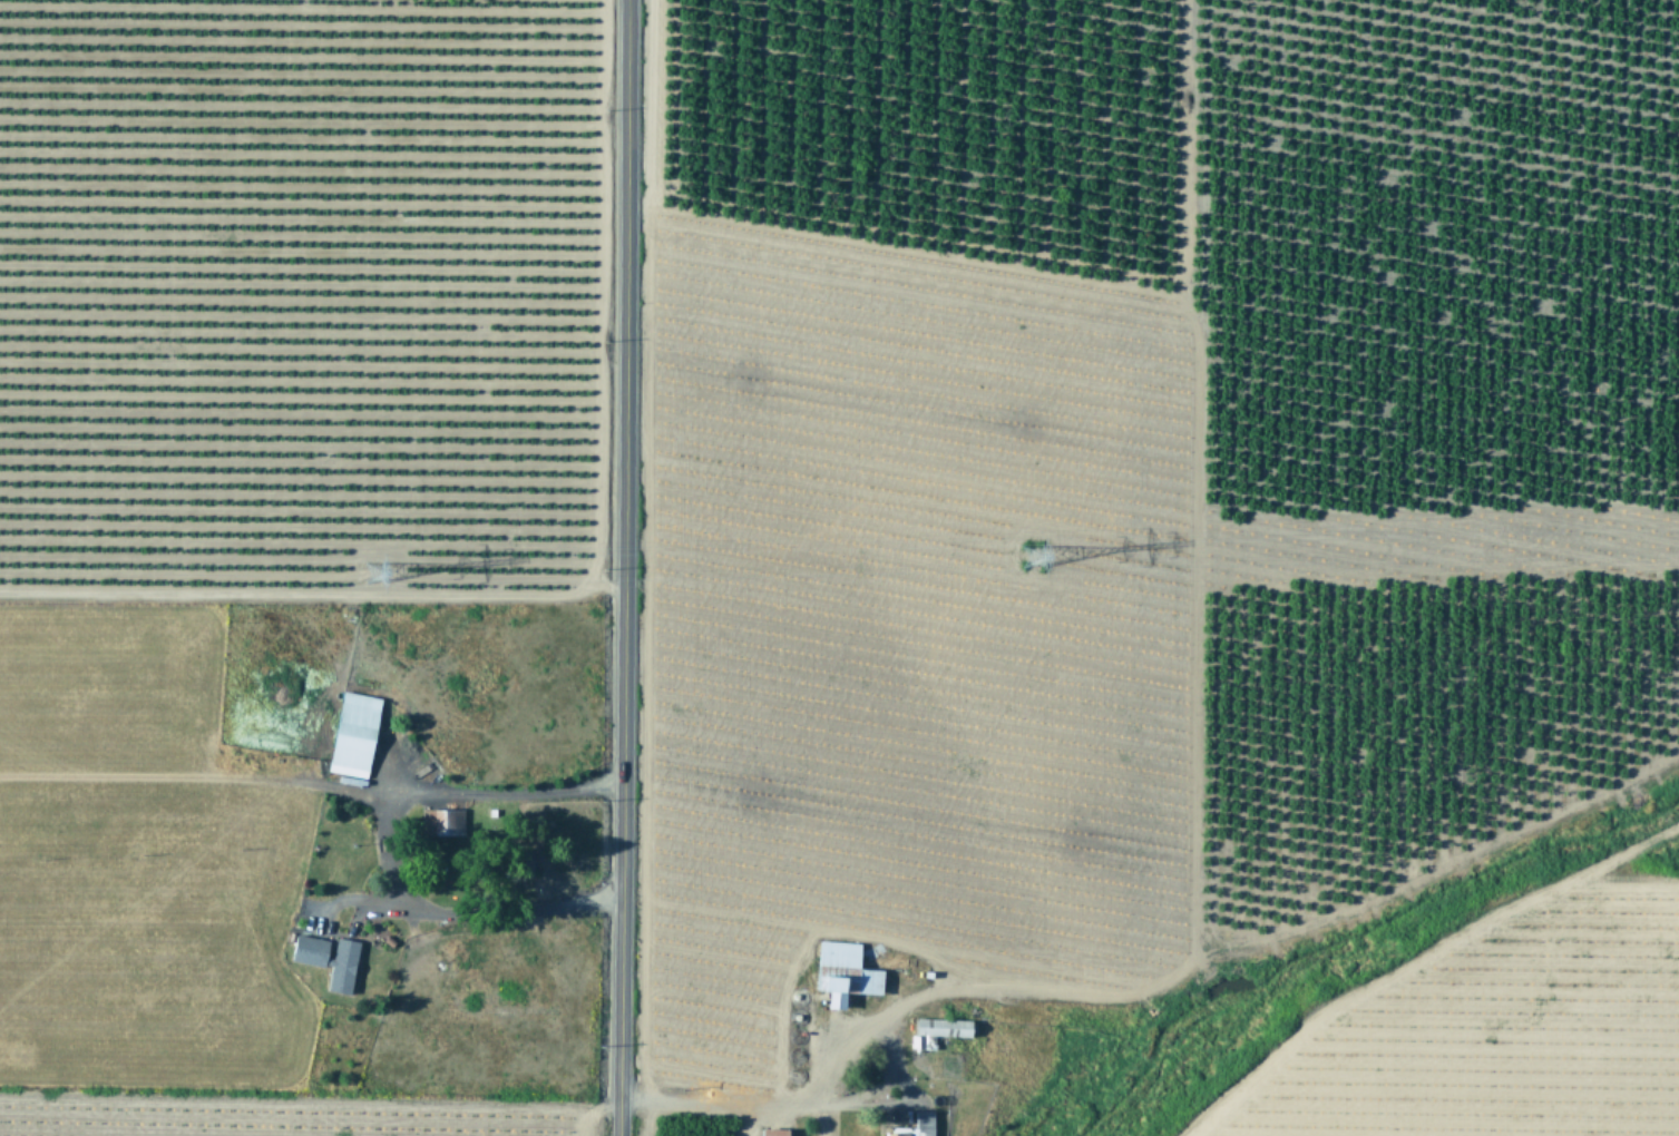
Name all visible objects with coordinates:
crop: (292, 547)
power tower: (1023, 551)
road: (622, 568)
power tower: (371, 569)
building: (355, 732)
building: (445, 820)
road: (385, 845)
building: (330, 957)
building: (851, 962)
building: (837, 989)
road: (730, 1104)
building: (917, 1125)
building: (774, 1130)

